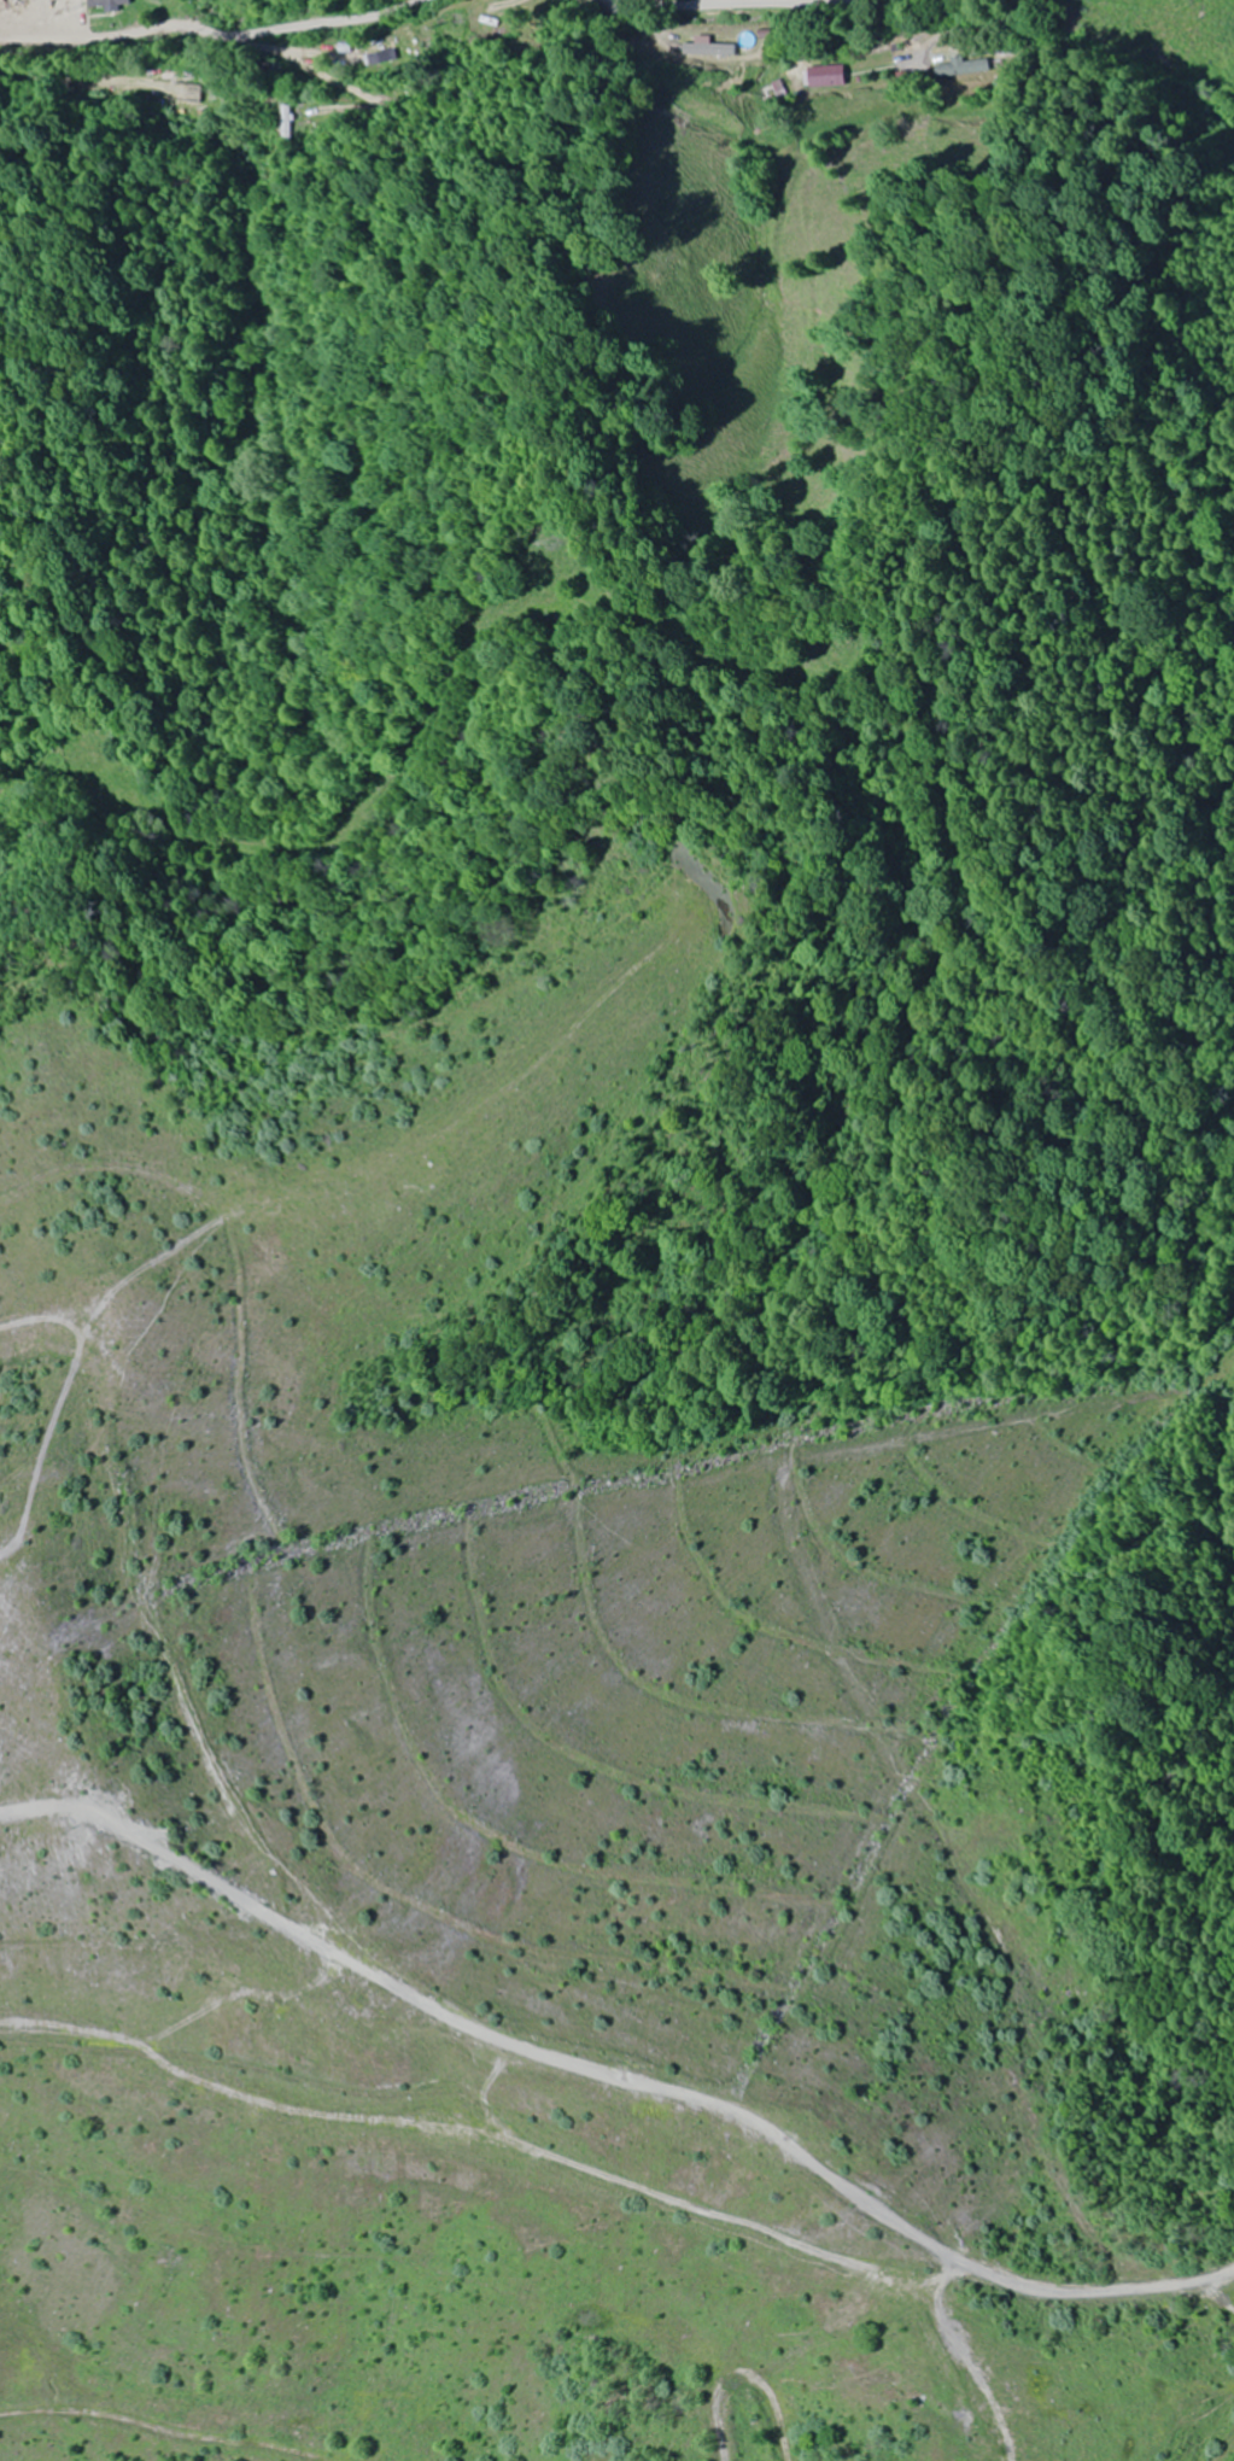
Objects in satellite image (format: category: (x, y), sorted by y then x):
building: (113, 4)
road: (783, 7)
road: (270, 18)
road: (201, 47)
building: (1177, 57)
building: (835, 76)

